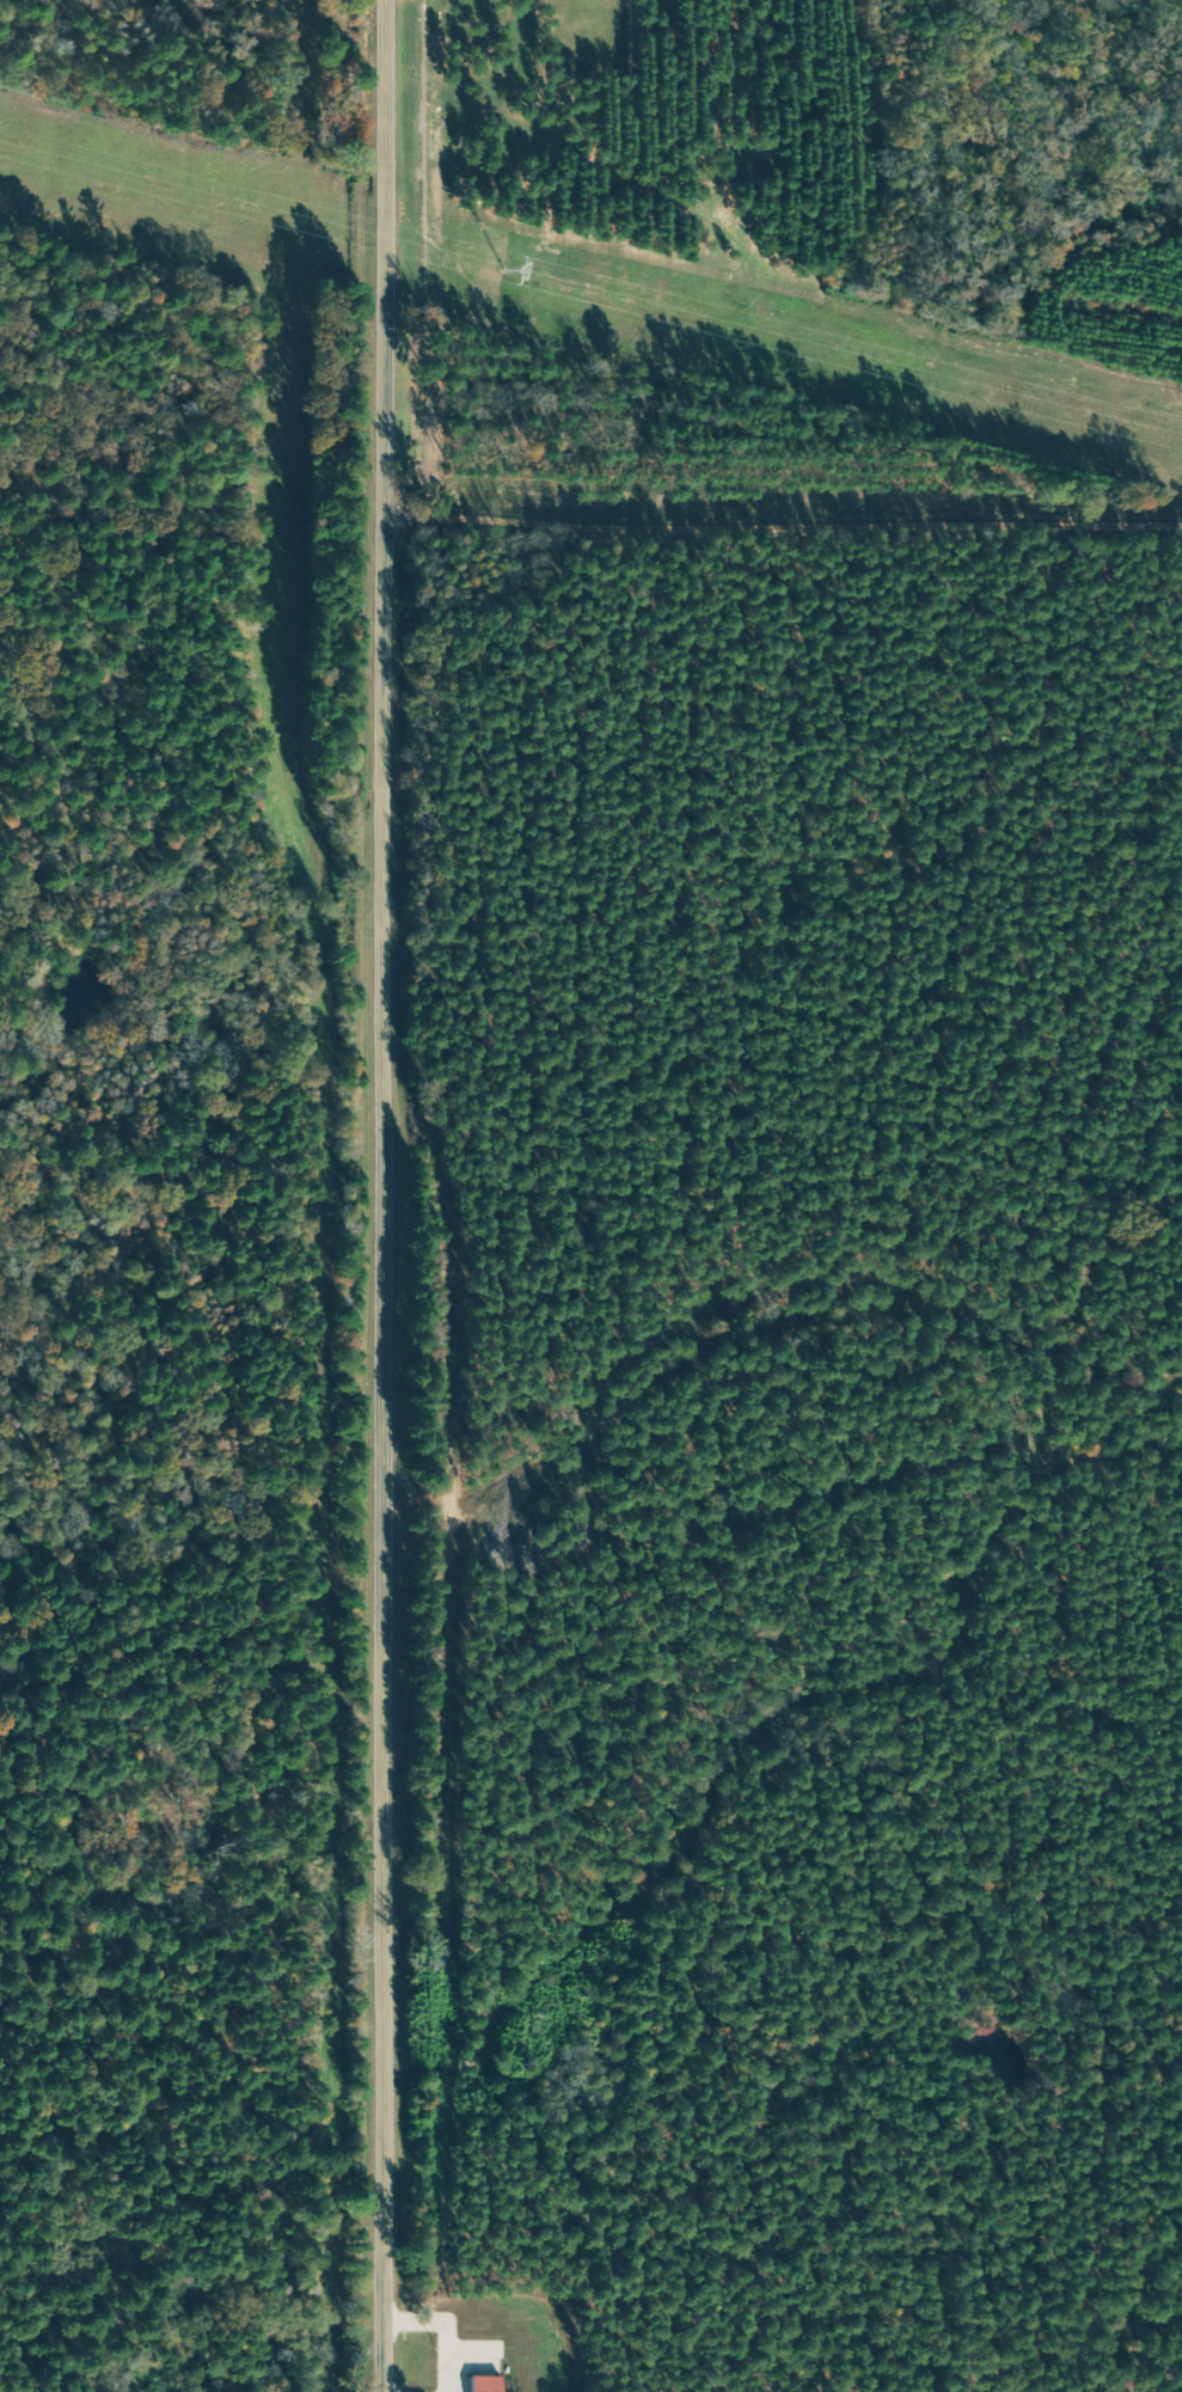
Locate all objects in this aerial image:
power tower: (501, 268)
road: (784, 527)
road: (1000, 755)
road: (825, 991)
road: (385, 1195)
building: (485, 2384)

